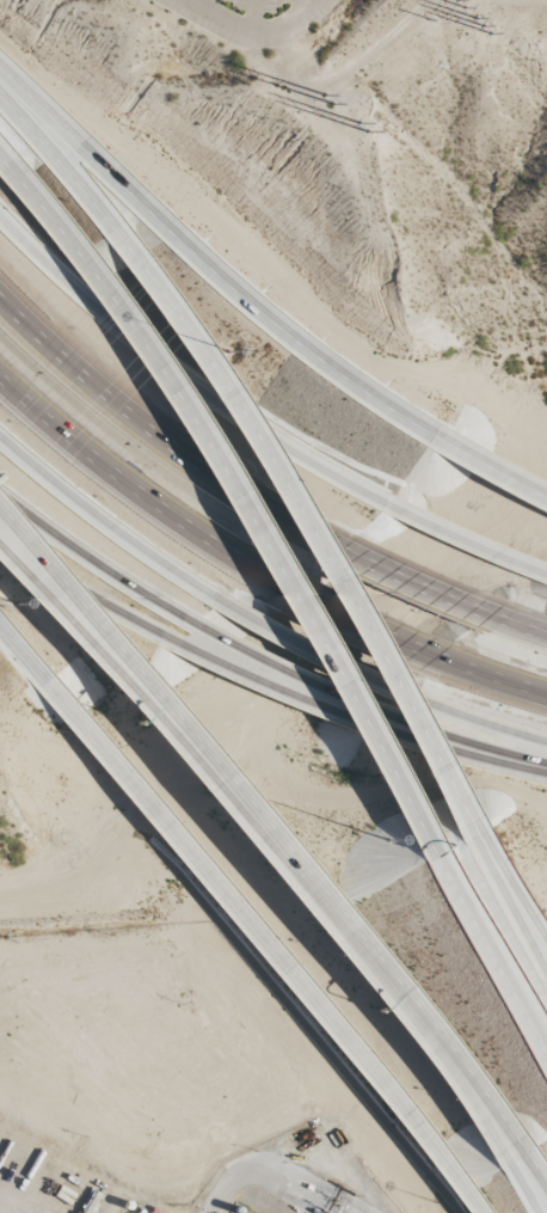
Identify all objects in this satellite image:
road: (209, 4)
road: (299, 5)
road: (253, 14)
parking lot: (250, 19)
road: (253, 30)
road: (5, 158)
road: (64, 169)
road: (205, 267)
road: (179, 375)
road: (153, 437)
road: (488, 470)
road: (242, 486)
road: (117, 488)
road: (312, 521)
road: (104, 532)
road: (463, 540)
road: (96, 560)
road: (411, 587)
road: (87, 593)
road: (346, 619)
road: (524, 629)
road: (100, 636)
road: (312, 644)
road: (100, 651)
road: (23, 655)
road: (291, 668)
road: (498, 681)
road: (278, 684)
road: (474, 722)
road: (465, 737)
road: (463, 746)
road: (506, 878)
road: (505, 896)
road: (490, 941)
road: (265, 945)
road: (371, 949)
road: (410, 1017)
road: (537, 1164)
road: (522, 1189)

